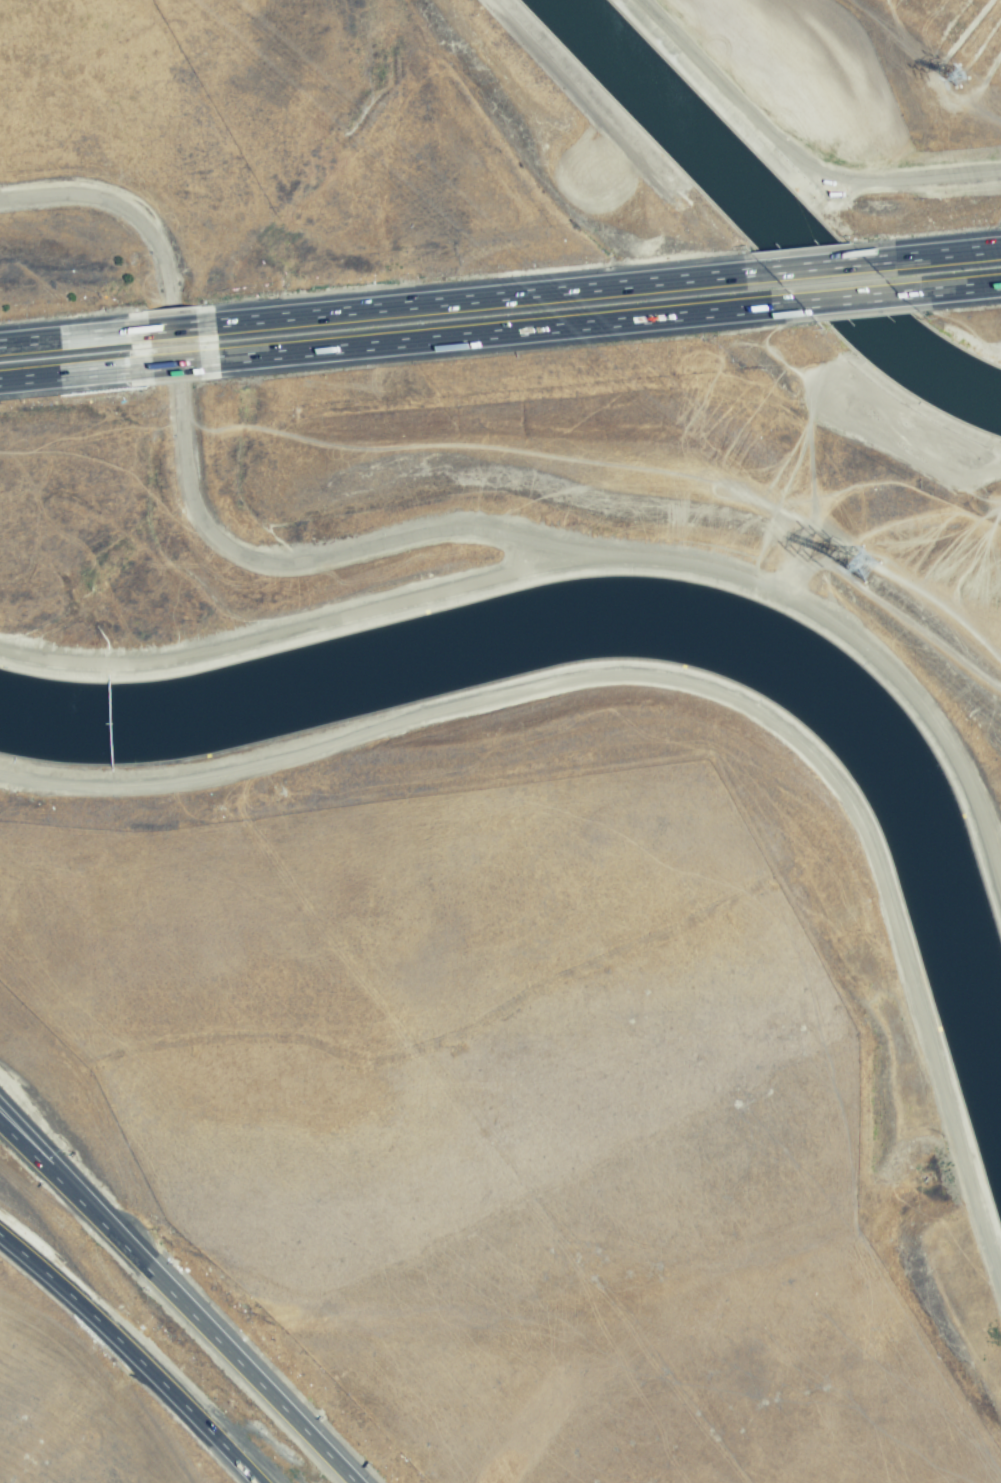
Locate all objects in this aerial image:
power tower: (968, 76)
road: (792, 151)
road: (933, 253)
road: (815, 265)
road: (949, 288)
road: (480, 296)
road: (847, 299)
road: (171, 326)
road: (498, 332)
road: (73, 335)
road: (174, 363)
road: (75, 373)
road: (441, 528)
power tower: (887, 575)
road: (74, 1184)
road: (73, 1195)
road: (49, 1276)
road: (251, 1374)
road: (179, 1399)

